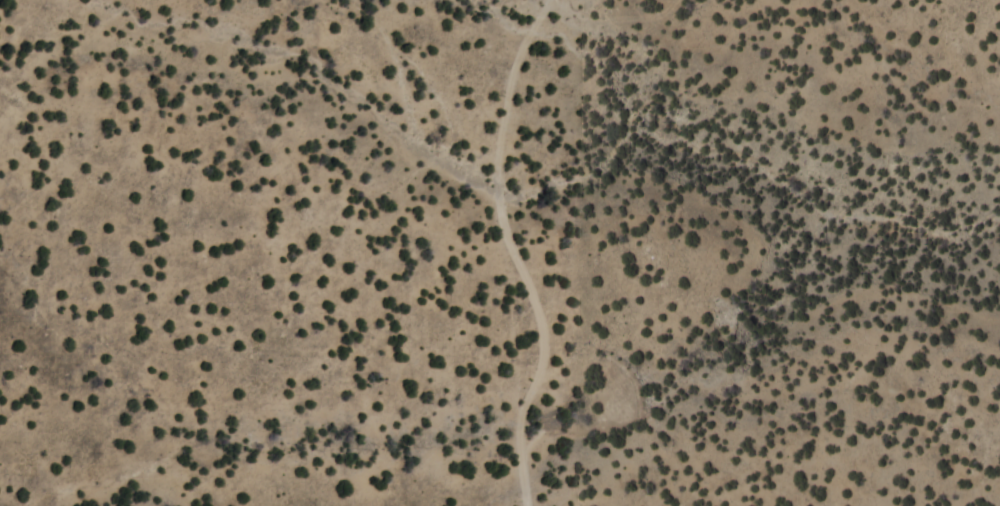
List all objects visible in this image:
road: (499, 253)

